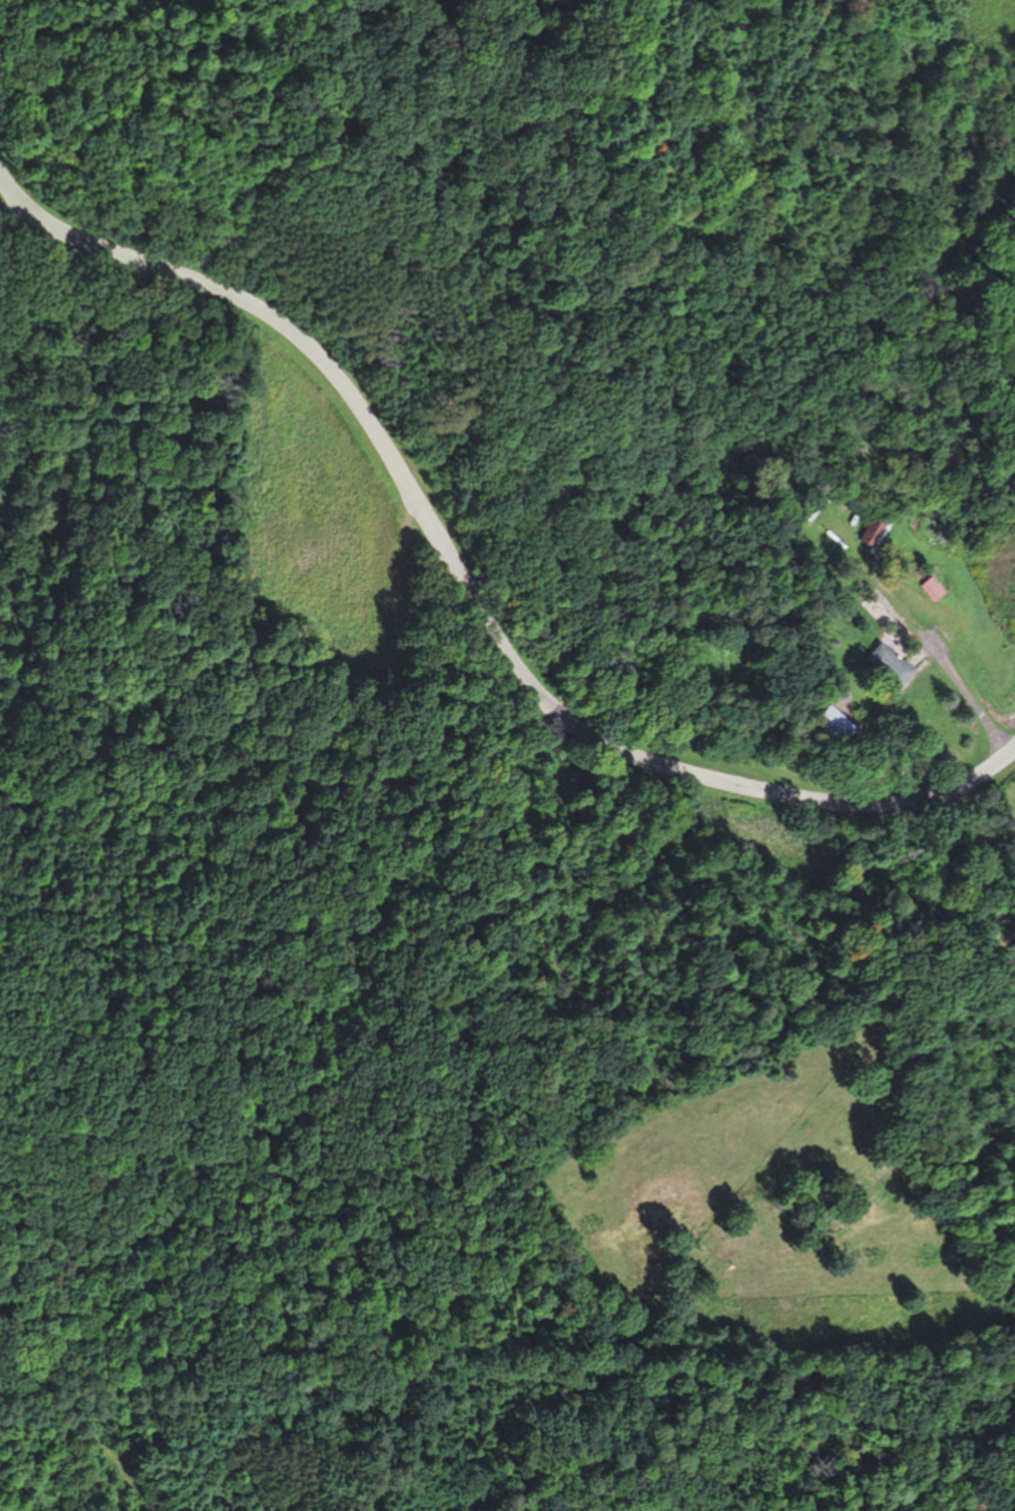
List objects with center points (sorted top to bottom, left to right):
building: (872, 533)
road: (466, 582)
building: (931, 589)
building: (835, 726)

